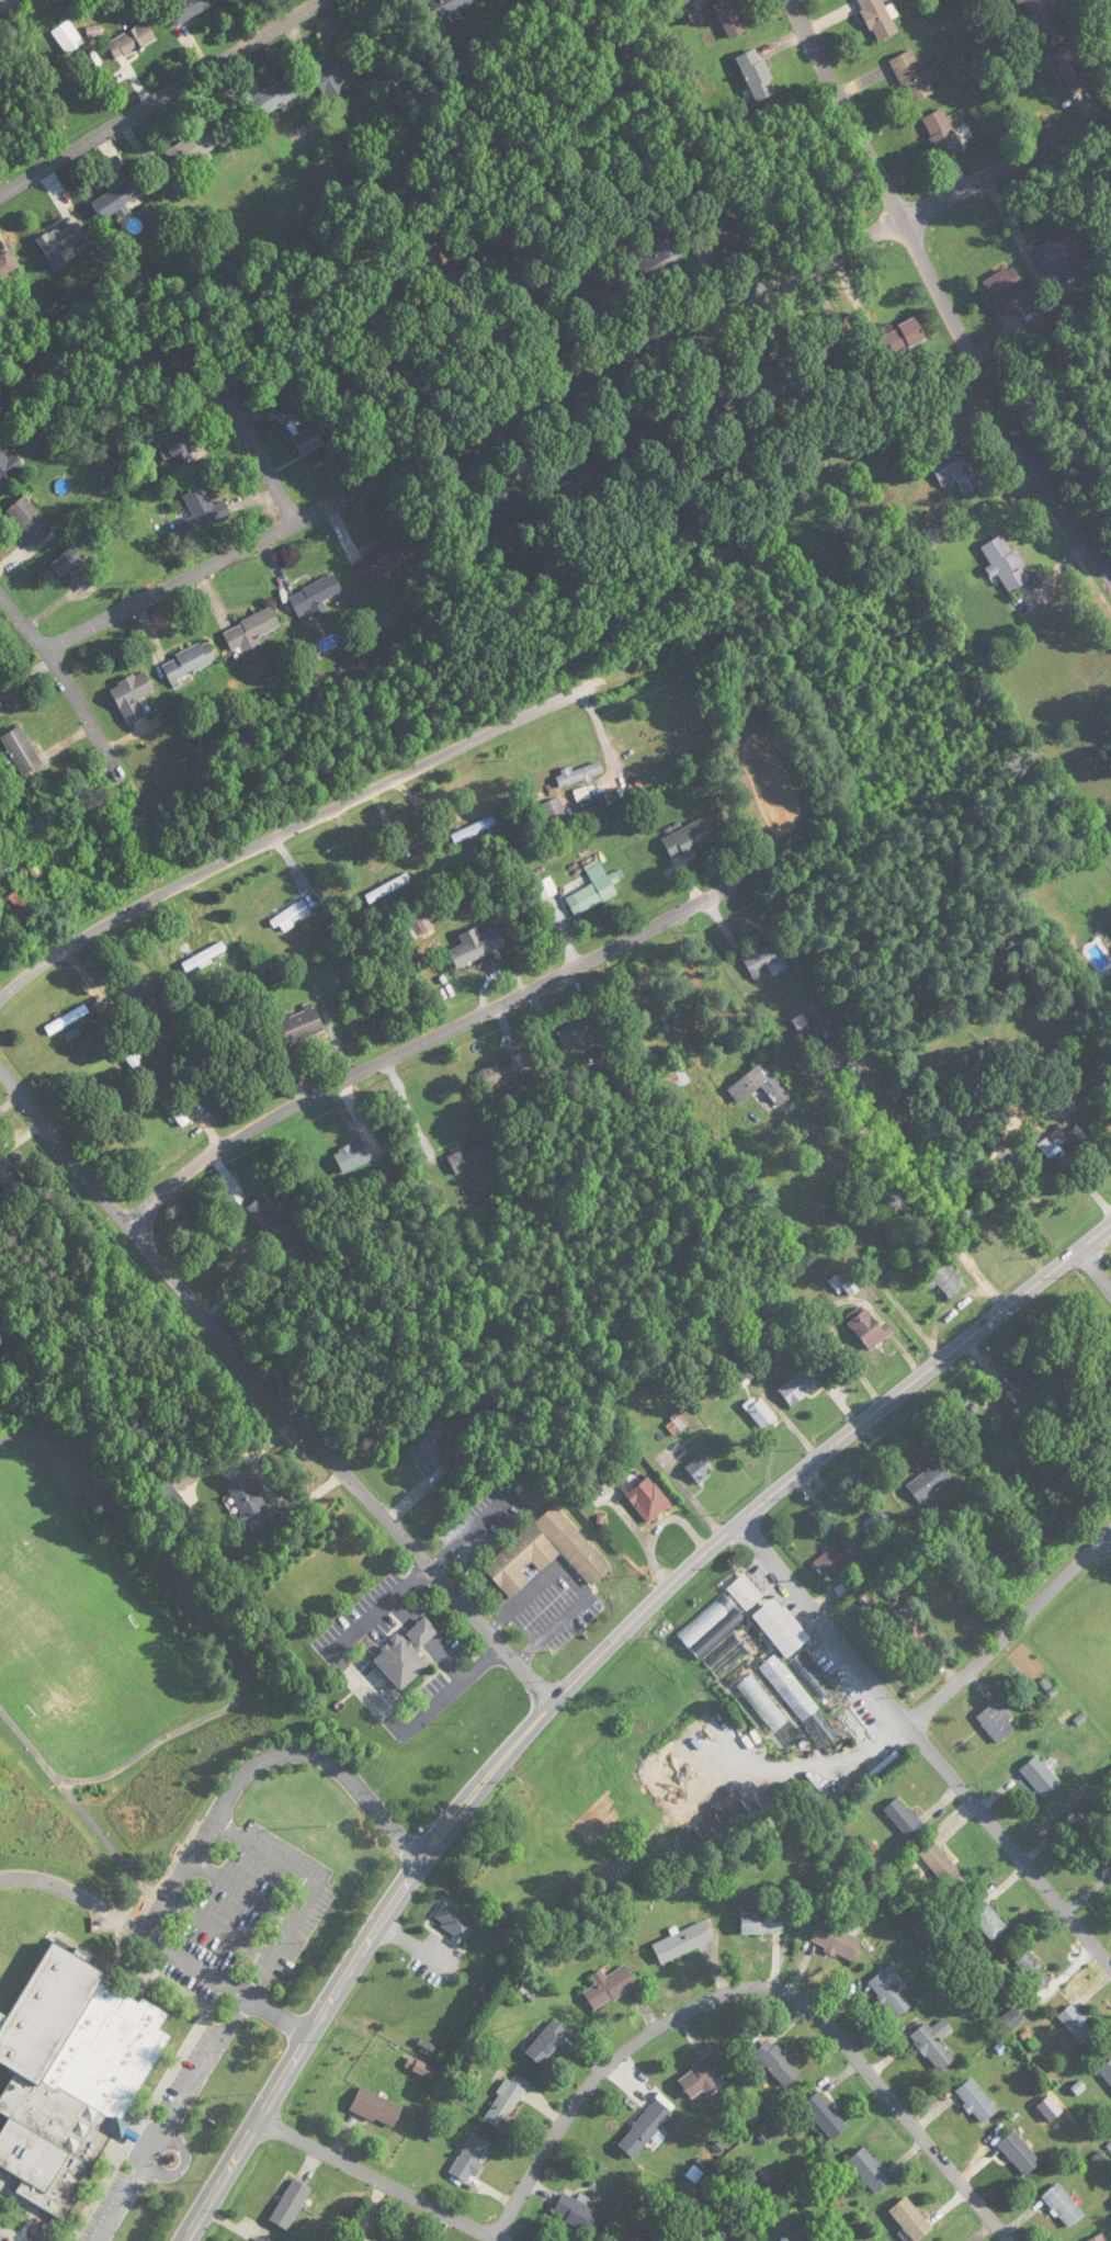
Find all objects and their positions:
building: (449, 7)
building: (188, 9)
building: (685, 11)
building: (1040, 15)
building: (729, 18)
building: (877, 19)
building: (67, 37)
building: (131, 41)
building: (1070, 66)
building: (338, 70)
building: (757, 75)
building: (915, 76)
building: (277, 94)
road: (161, 98)
building: (942, 134)
building: (193, 150)
building: (112, 201)
building: (717, 230)
building: (61, 242)
building: (1059, 254)
building: (660, 256)
building: (439, 261)
building: (8, 265)
building: (585, 290)
building: (1002, 290)
road: (534, 292)
road: (943, 293)
building: (899, 338)
building: (492, 339)
building: (828, 359)
building: (405, 365)
building: (763, 380)
road: (580, 385)
building: (702, 405)
building: (638, 437)
building: (308, 441)
building: (175, 445)
road: (253, 445)
building: (9, 465)
building: (957, 469)
building: (576, 473)
building: (508, 501)
building: (203, 509)
building: (30, 520)
building: (378, 563)
building: (1005, 563)
building: (75, 570)
building: (315, 599)
building: (250, 632)
building: (189, 663)
building: (132, 695)
building: (1, 702)
road: (81, 706)
building: (21, 751)
building: (579, 774)
building: (554, 812)
road: (316, 819)
building: (687, 840)
building: (597, 887)
building: (387, 889)
building: (20, 913)
building: (292, 917)
building: (766, 959)
building: (67, 1020)
building: (301, 1023)
road: (457, 1023)
building: (131, 1057)
building: (499, 1074)
building: (672, 1078)
building: (760, 1086)
road: (406, 1105)
building: (1068, 1138)
building: (353, 1156)
building: (471, 1156)
building: (10, 1176)
building: (267, 1218)
road: (1095, 1270)
building: (943, 1277)
building: (1018, 1373)
building: (803, 1384)
road: (271, 1385)
building: (761, 1414)
building: (964, 1418)
building: (428, 1451)
building: (701, 1469)
building: (928, 1482)
building: (166, 1496)
building: (648, 1499)
building: (249, 1503)
building: (518, 1554)
building: (832, 1559)
building: (745, 1592)
road: (211, 1625)
building: (781, 1626)
road: (1011, 1630)
building: (406, 1654)
road: (581, 1673)
building: (815, 1684)
building: (789, 1688)
road: (369, 1690)
building: (762, 1702)
building: (997, 1723)
road: (925, 1744)
road: (258, 1759)
road: (820, 1764)
building: (1040, 1776)
road: (78, 1811)
building: (904, 1818)
building: (1088, 1826)
building: (943, 1867)
building: (1110, 1876)
road: (310, 1889)
building: (988, 1921)
building: (762, 1923)
building: (838, 1937)
building: (683, 1943)
road: (158, 1945)
building: (1033, 1971)
building: (609, 1987)
road: (755, 1988)
building: (891, 1992)
building: (1076, 2025)
building: (546, 2042)
building: (934, 2044)
building: (778, 2062)
road: (205, 2067)
building: (421, 2069)
building: (1107, 2072)
building: (70, 2075)
building: (702, 2078)
building: (506, 2101)
building: (977, 2102)
building: (376, 2108)
building: (825, 2116)
building: (644, 2129)
road: (147, 2143)
building: (1020, 2153)
building: (471, 2158)
building: (869, 2170)
road: (372, 2182)
road: (124, 2204)
building: (290, 2204)
building: (1064, 2206)
building: (579, 2215)
building: (911, 2219)
building: (633, 2236)
building: (1100, 2238)
building: (259, 2239)

